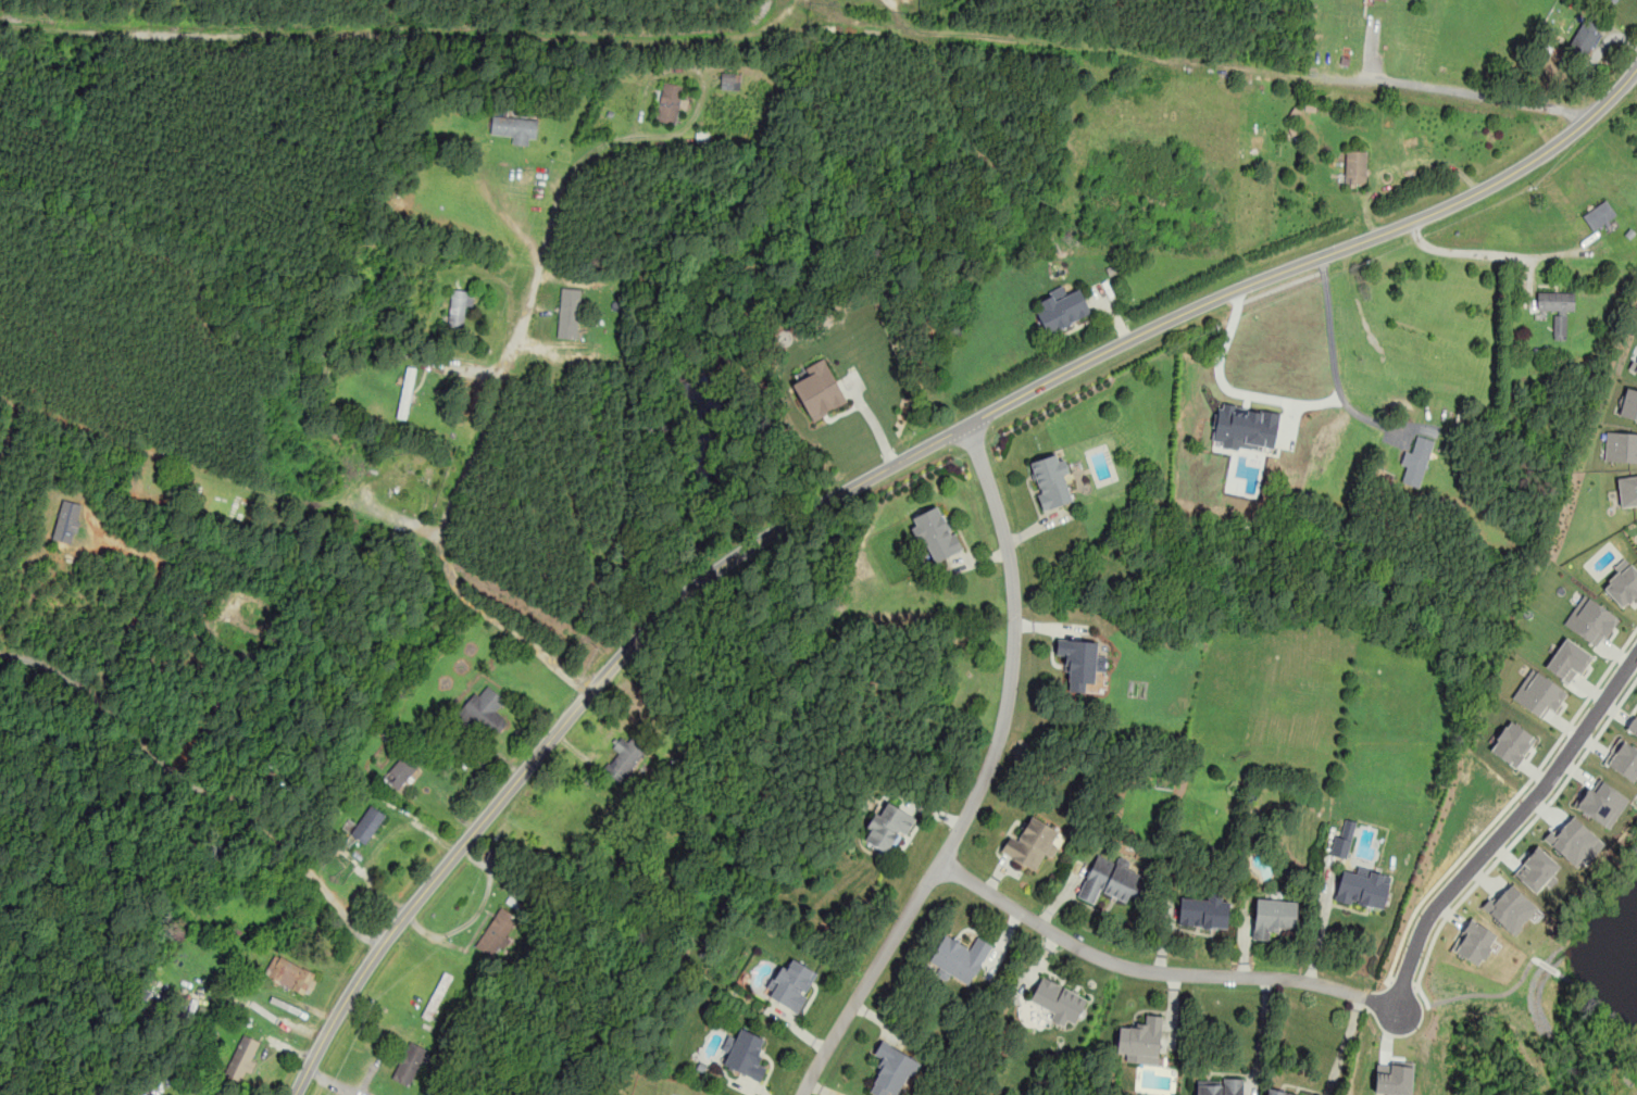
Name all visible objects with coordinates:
building: (1620, 0)
building: (1584, 38)
building: (730, 80)
road: (1408, 84)
building: (670, 102)
building: (514, 127)
road: (626, 136)
building: (1355, 166)
building: (1599, 214)
road: (1480, 254)
building: (1557, 307)
building: (460, 309)
building: (1062, 309)
building: (568, 312)
road: (1225, 339)
road: (1333, 354)
building: (1635, 366)
building: (817, 389)
building: (405, 391)
building: (1628, 403)
building: (1246, 427)
building: (1621, 446)
building: (1416, 460)
road: (877, 473)
road: (465, 474)
building: (1050, 480)
building: (1627, 490)
building: (67, 520)
building: (935, 533)
building: (1623, 583)
road: (142, 603)
building: (1589, 620)
building: (1567, 659)
building: (1079, 662)
building: (1538, 693)
building: (484, 712)
building: (1632, 725)
building: (1511, 743)
building: (624, 756)
building: (1622, 759)
building: (400, 770)
road: (984, 778)
road: (198, 790)
building: (1600, 802)
road: (1508, 804)
building: (367, 823)
building: (886, 825)
road: (1505, 828)
road: (1514, 838)
building: (1344, 840)
building: (1573, 840)
building: (1032, 843)
building: (1536, 869)
building: (1109, 881)
building: (1362, 889)
building: (1510, 908)
building: (1203, 911)
building: (1273, 916)
road: (1320, 927)
building: (497, 931)
building: (1474, 942)
building: (960, 958)
road: (1547, 966)
road: (1158, 973)
building: (291, 974)
road: (1403, 983)
building: (791, 984)
building: (437, 995)
road: (1489, 995)
building: (1057, 1000)
road: (1597, 1006)
road: (1261, 1035)
building: (1140, 1040)
road: (1345, 1045)
building: (745, 1053)
building: (242, 1059)
building: (409, 1062)
building: (892, 1069)
building: (1394, 1078)
building: (1219, 1086)
building: (1279, 1092)

